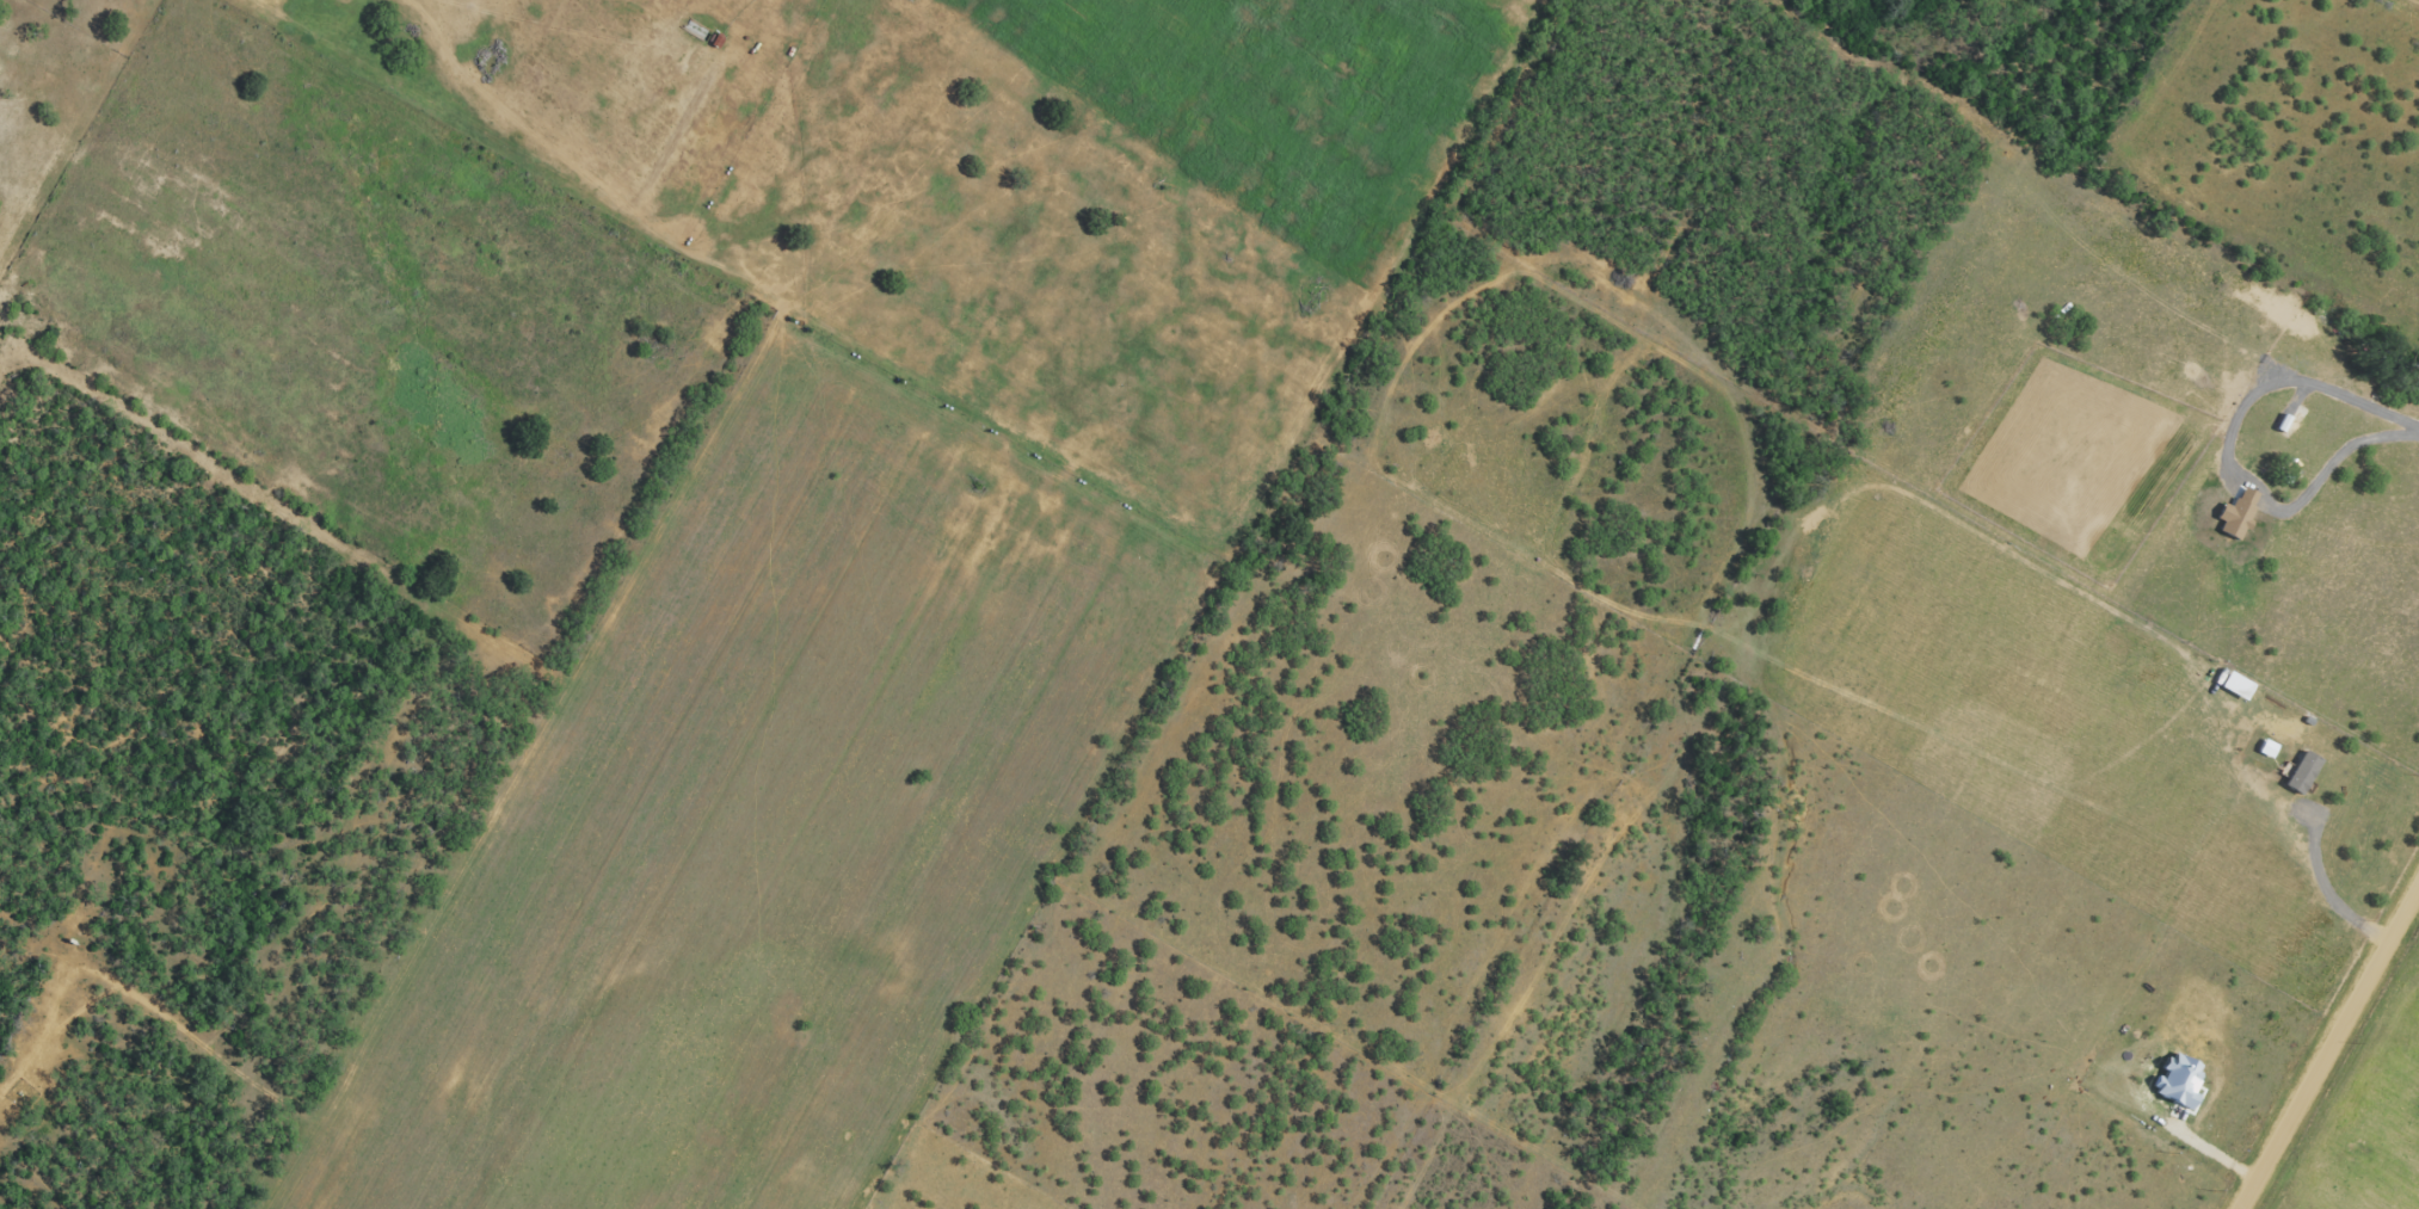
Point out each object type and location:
road: (2328, 1047)

